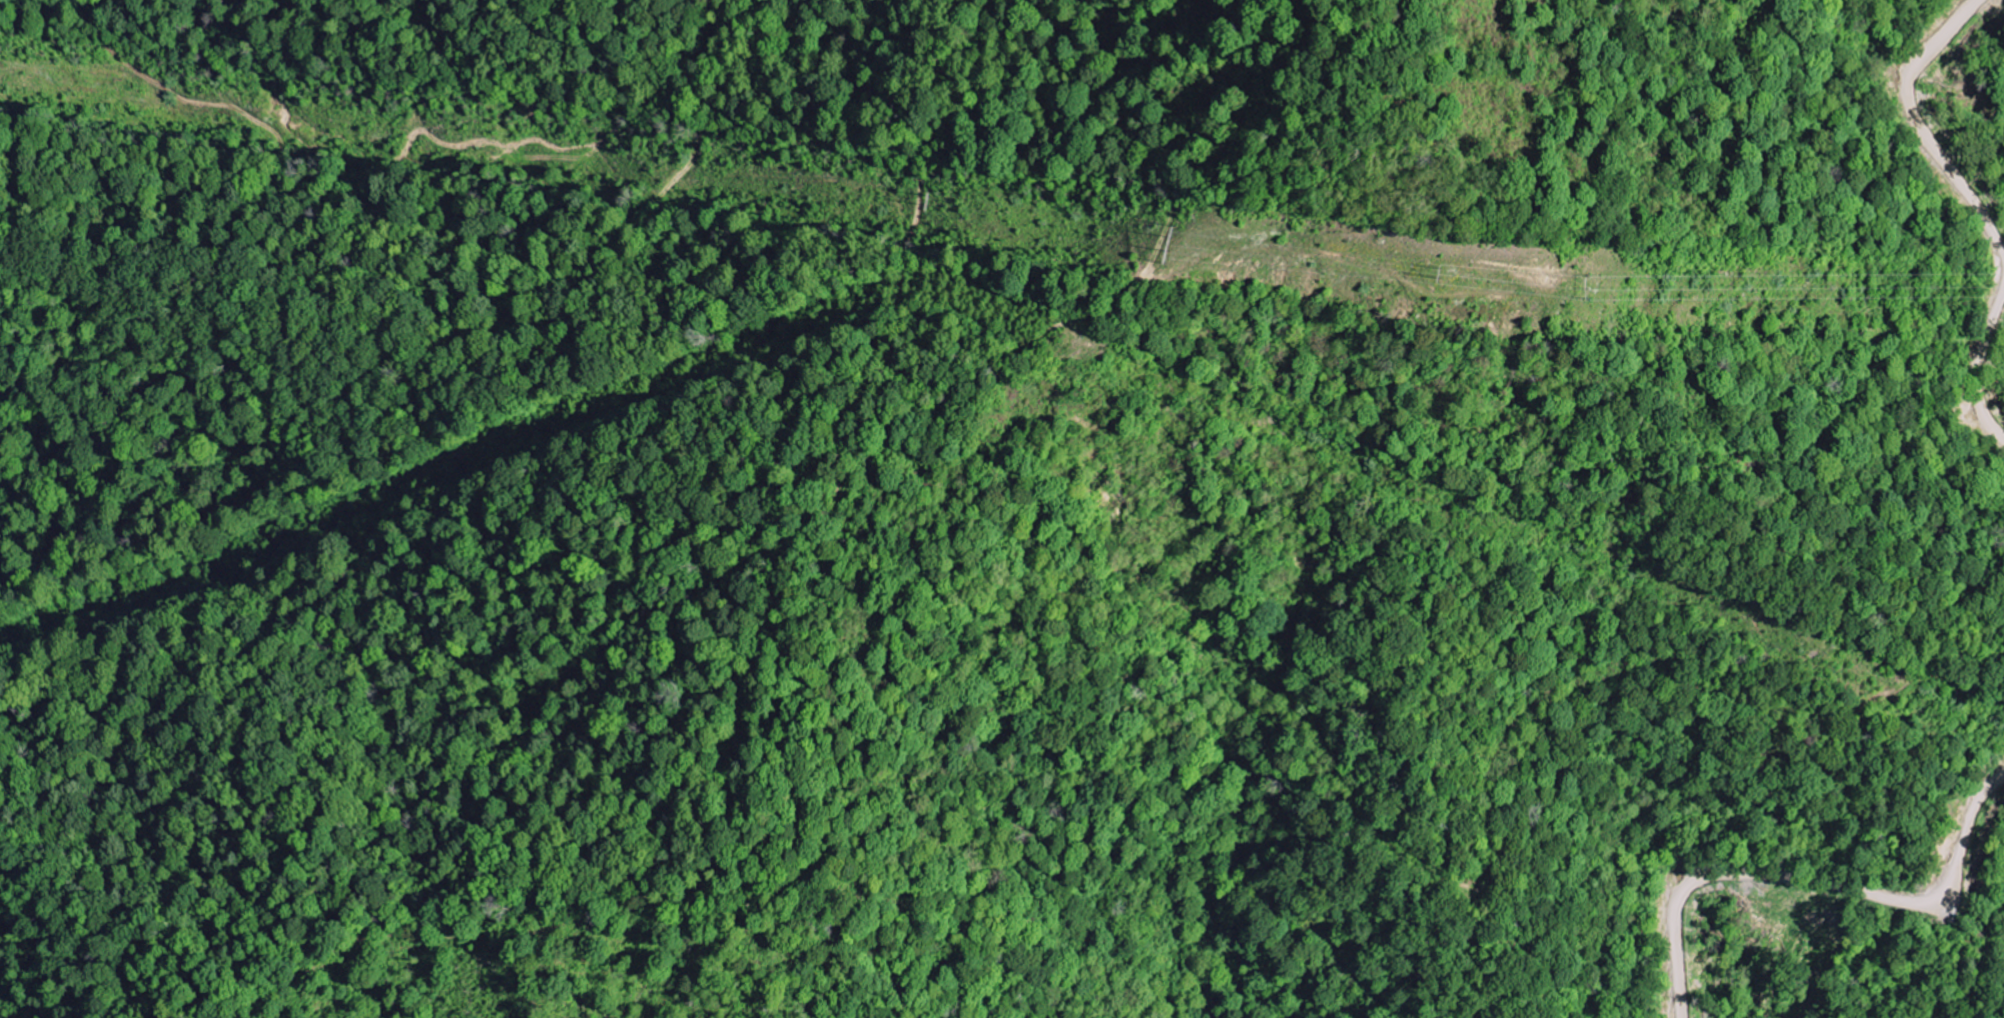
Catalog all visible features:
road: (1987, 66)
road: (1823, 876)

